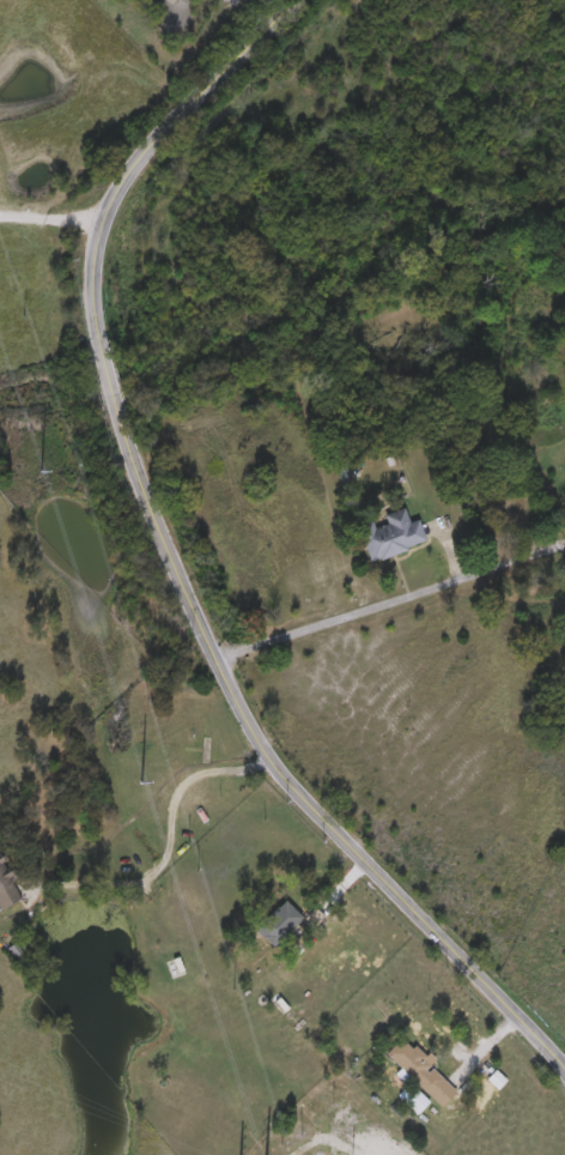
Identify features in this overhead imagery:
road: (48, 220)
building: (388, 531)
road: (170, 564)
road: (390, 601)
road: (165, 846)
building: (6, 885)
building: (278, 920)
building: (172, 962)
building: (176, 969)
building: (419, 1069)
building: (414, 1097)

